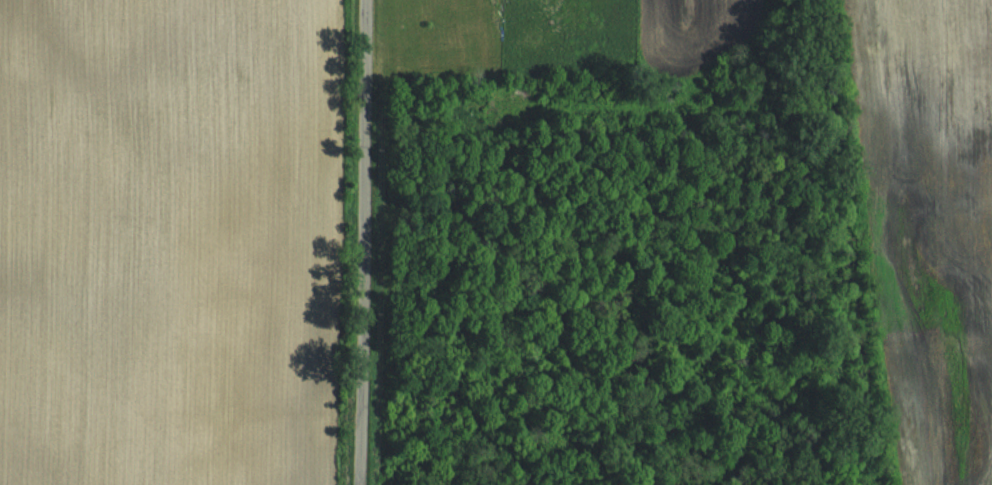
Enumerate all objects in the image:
road: (362, 242)

